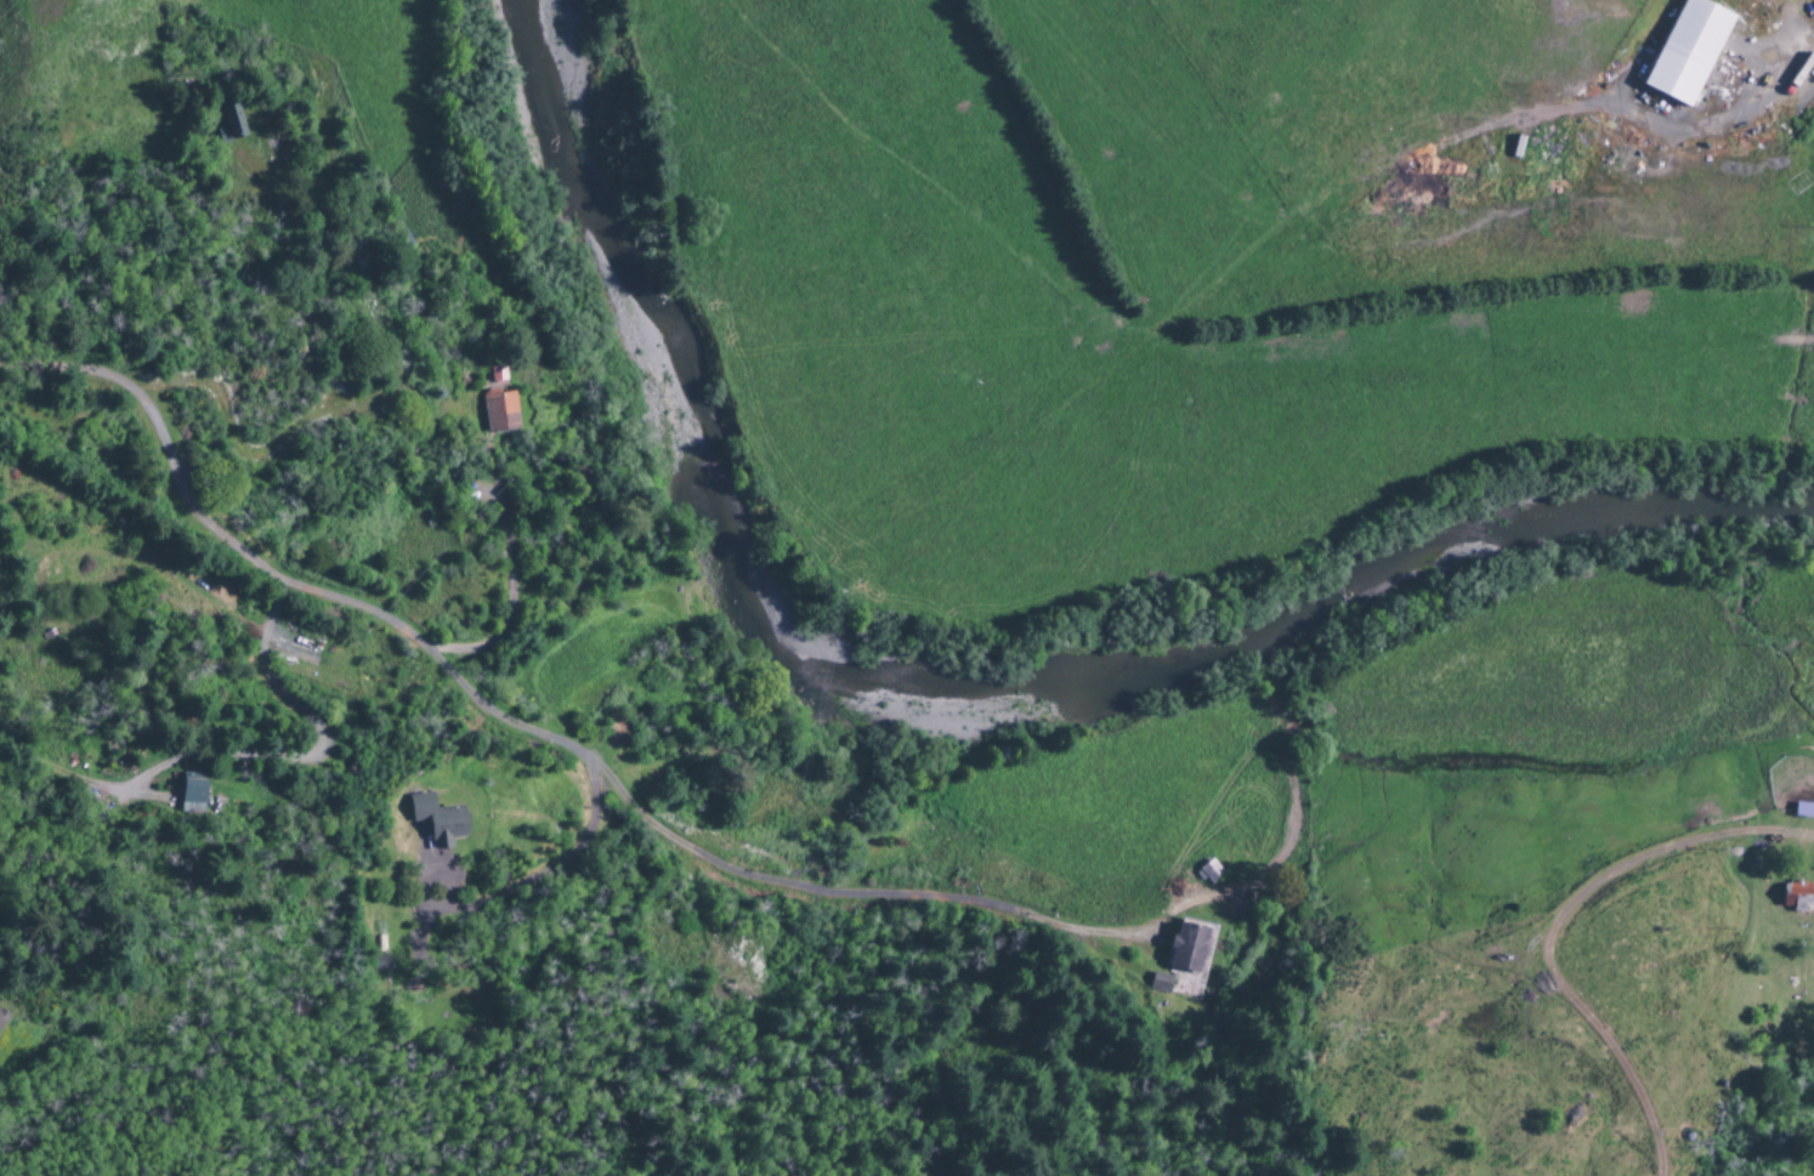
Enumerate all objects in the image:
building: (1688, 52)
road: (58, 367)
building: (497, 375)
building: (499, 413)
building: (192, 792)
building: (437, 820)
building: (1209, 873)
building: (1797, 894)
building: (1, 1017)
road: (0, 1101)

